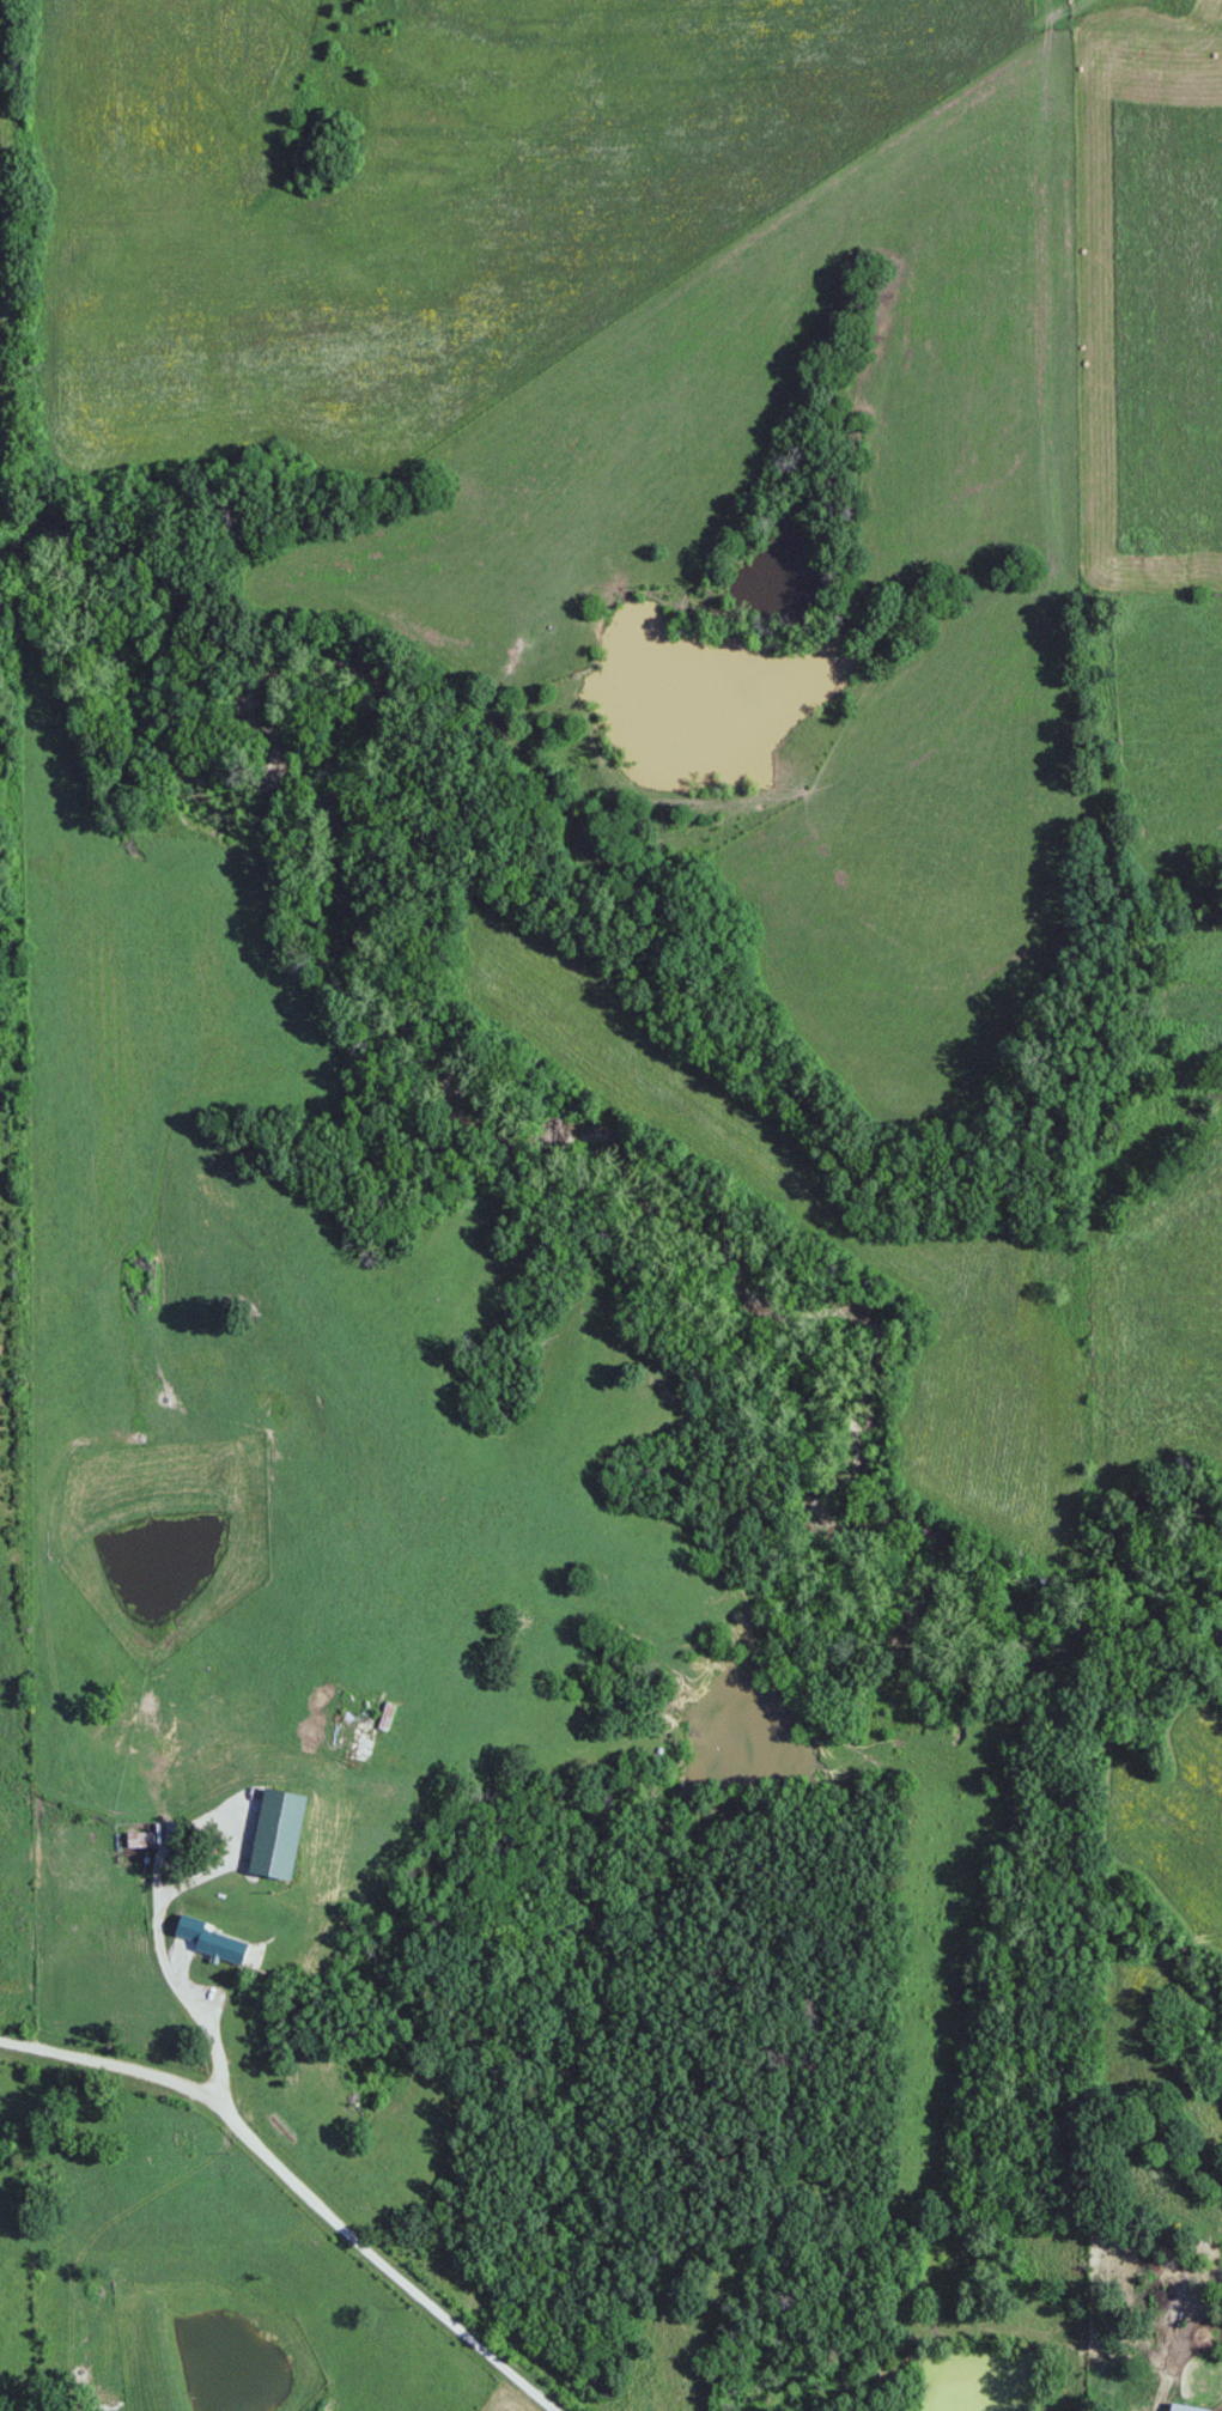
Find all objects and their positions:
road: (168, 1893)
building: (211, 1942)
road: (303, 2181)
building: (1186, 2407)

